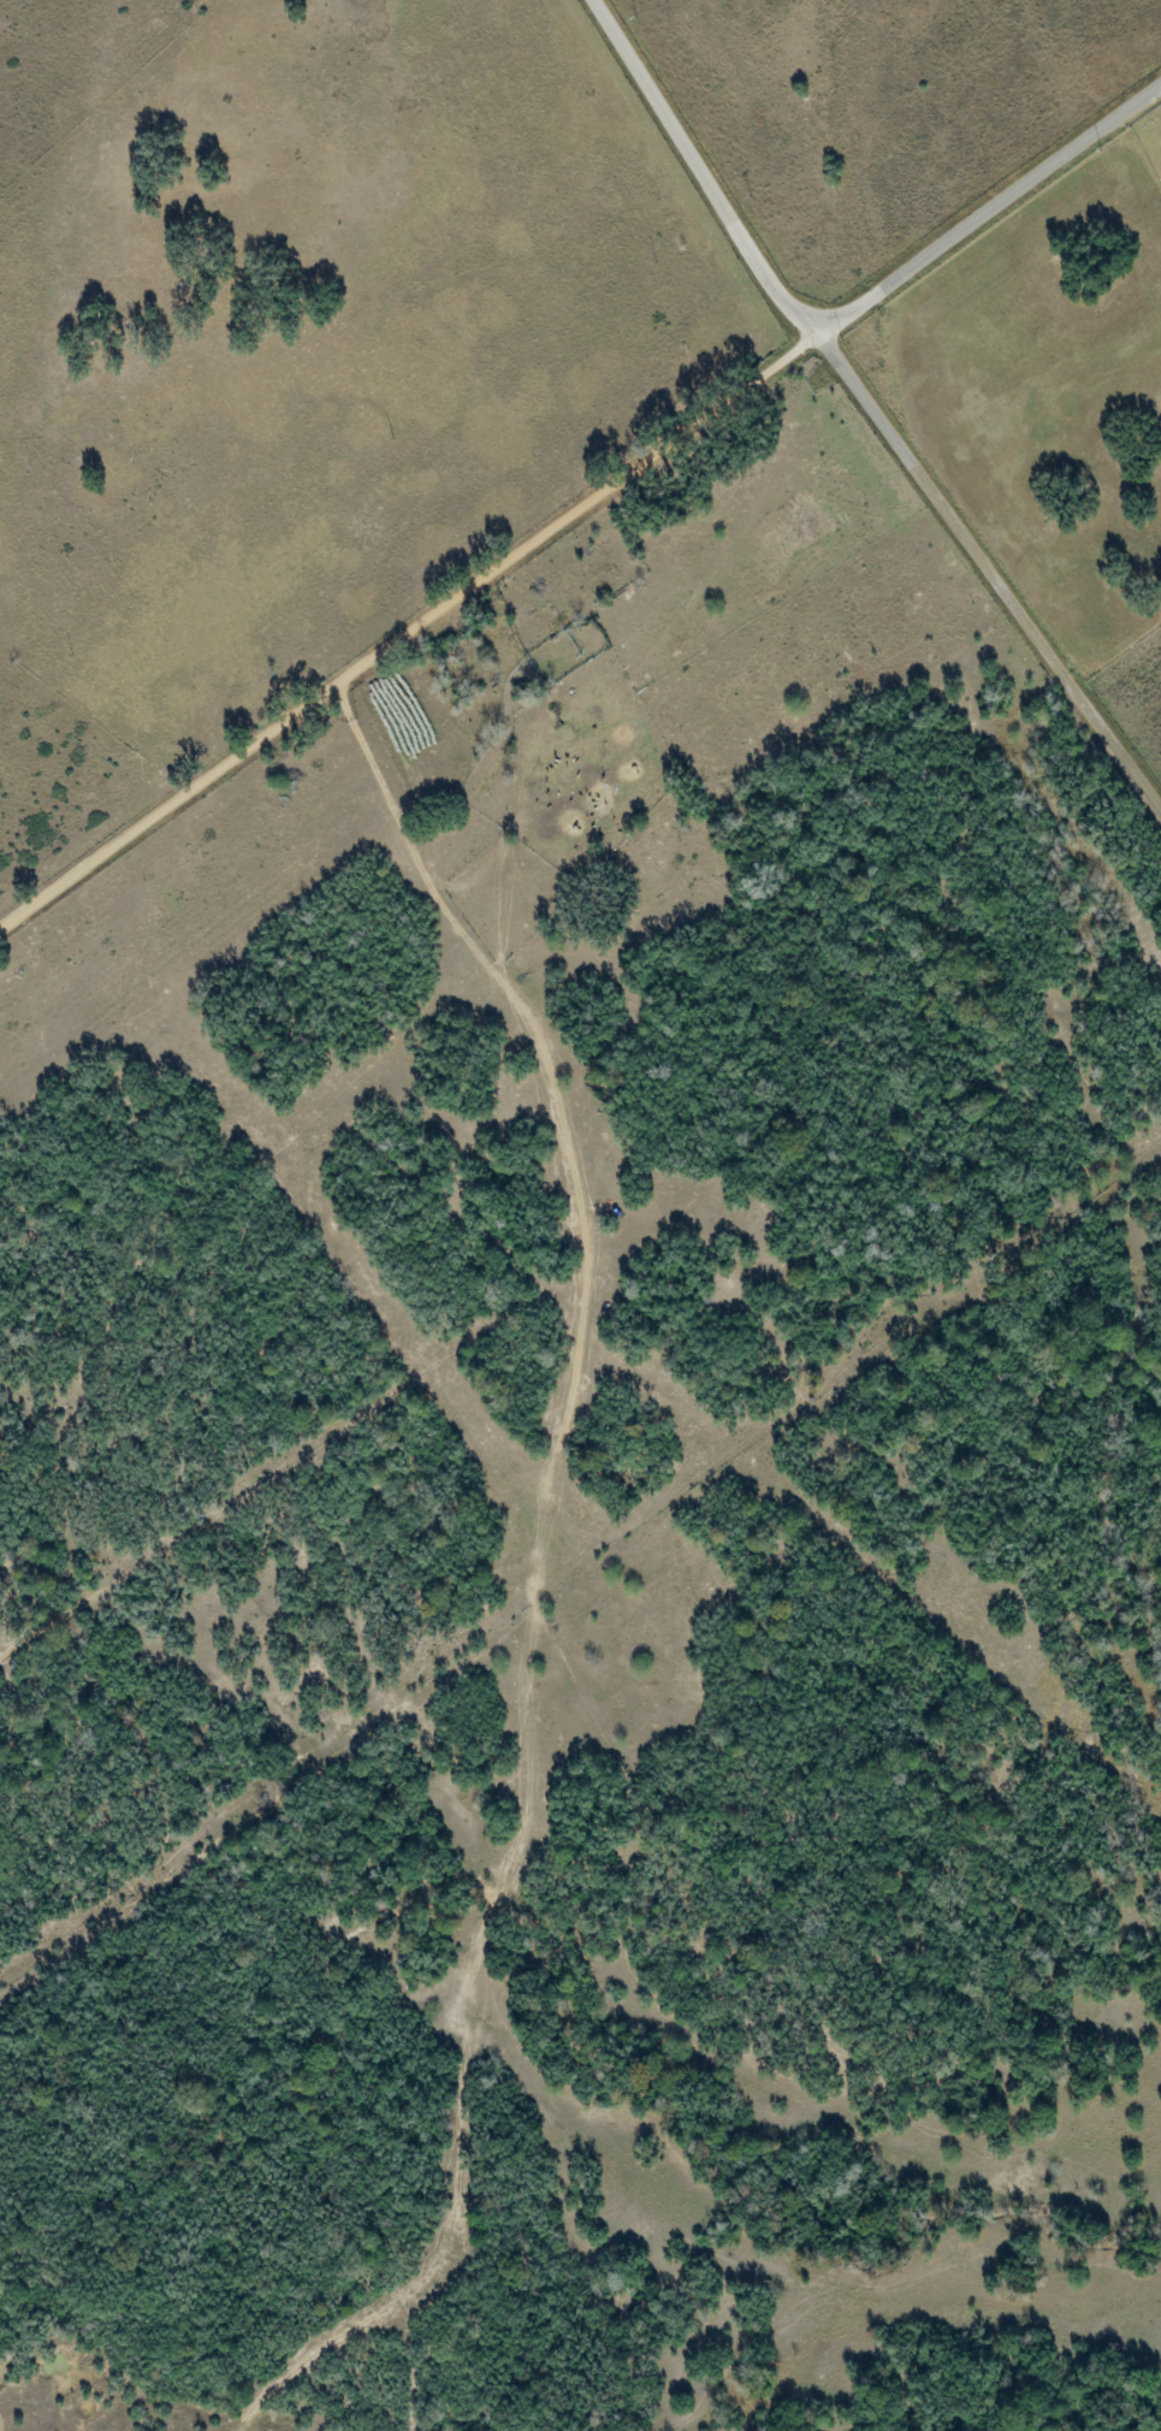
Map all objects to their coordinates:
park: (1150, 138)
road: (705, 168)
road: (990, 209)
road: (991, 566)
road: (409, 628)
road: (559, 1189)

